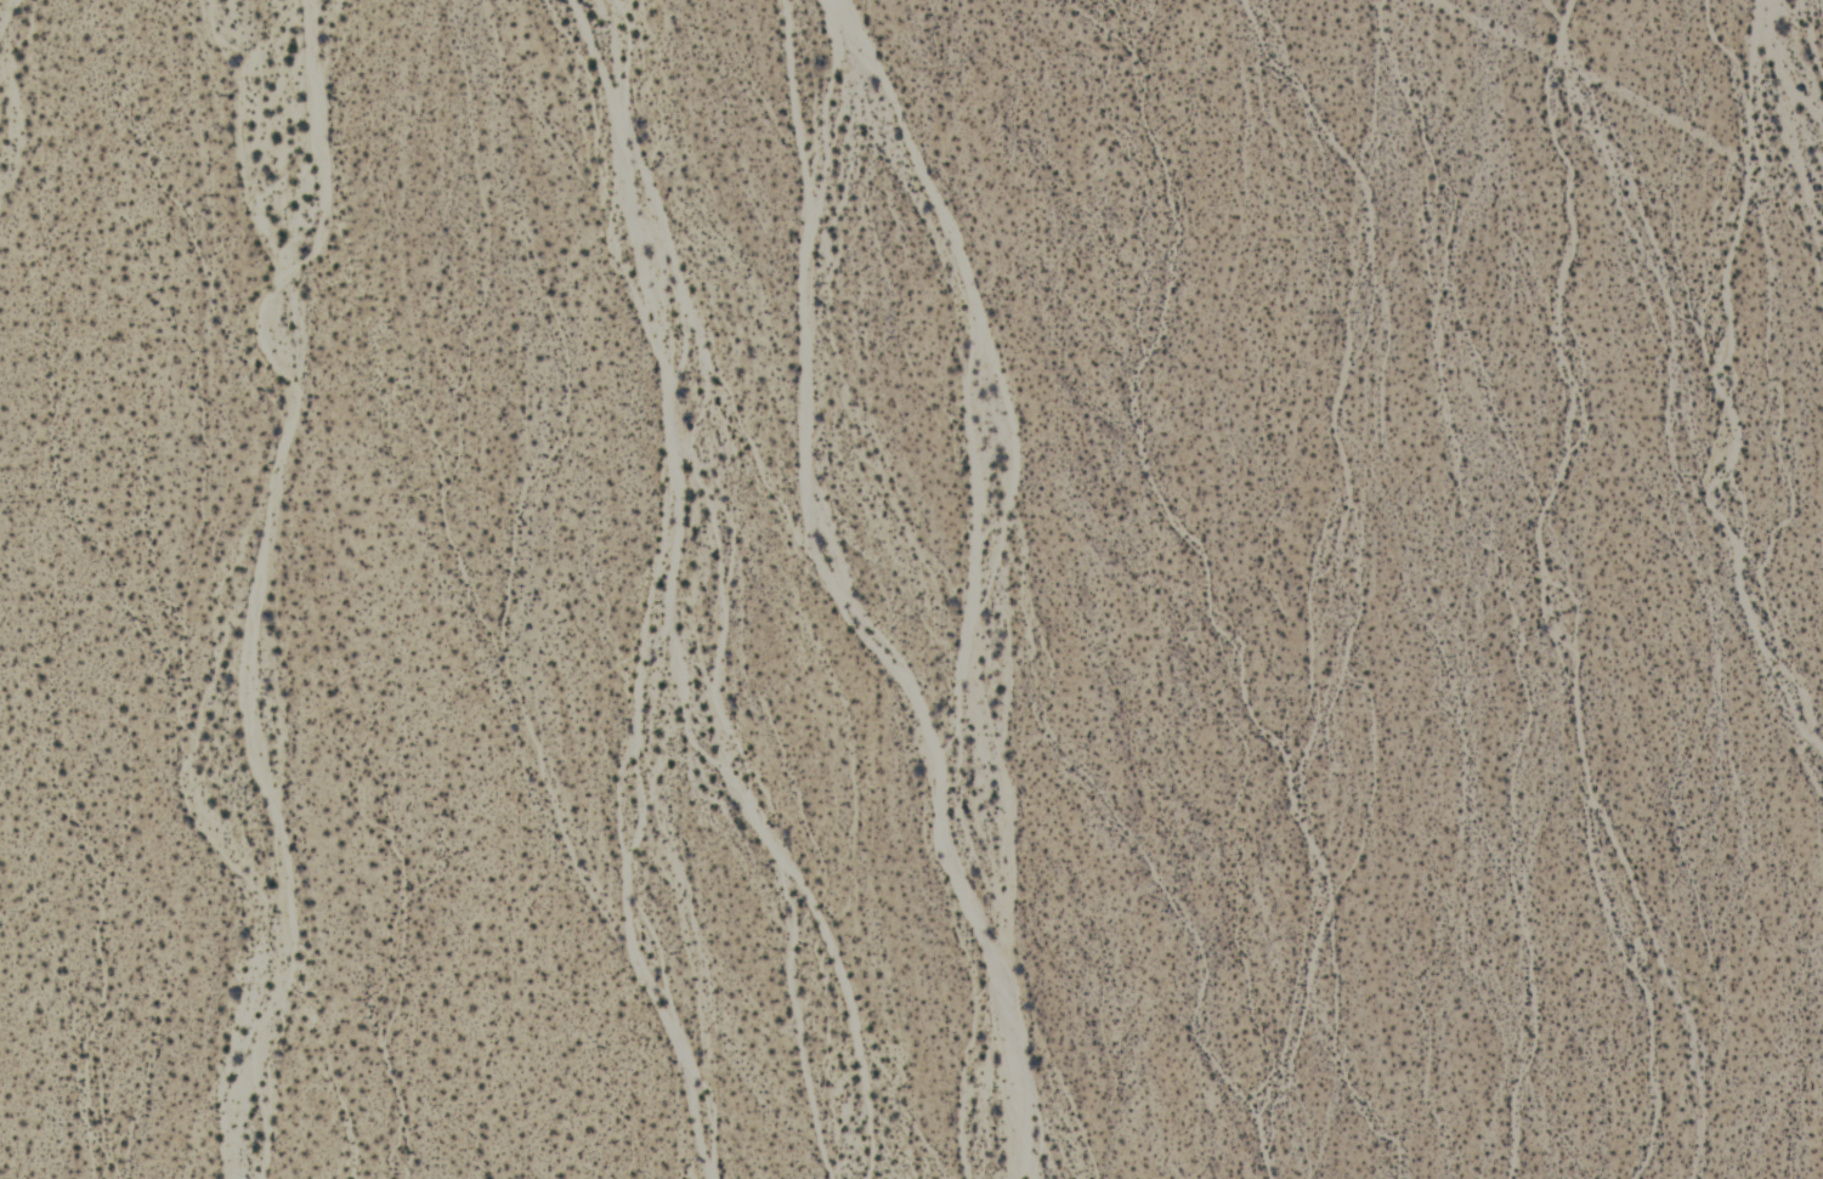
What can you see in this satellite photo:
road: (1625, 113)

